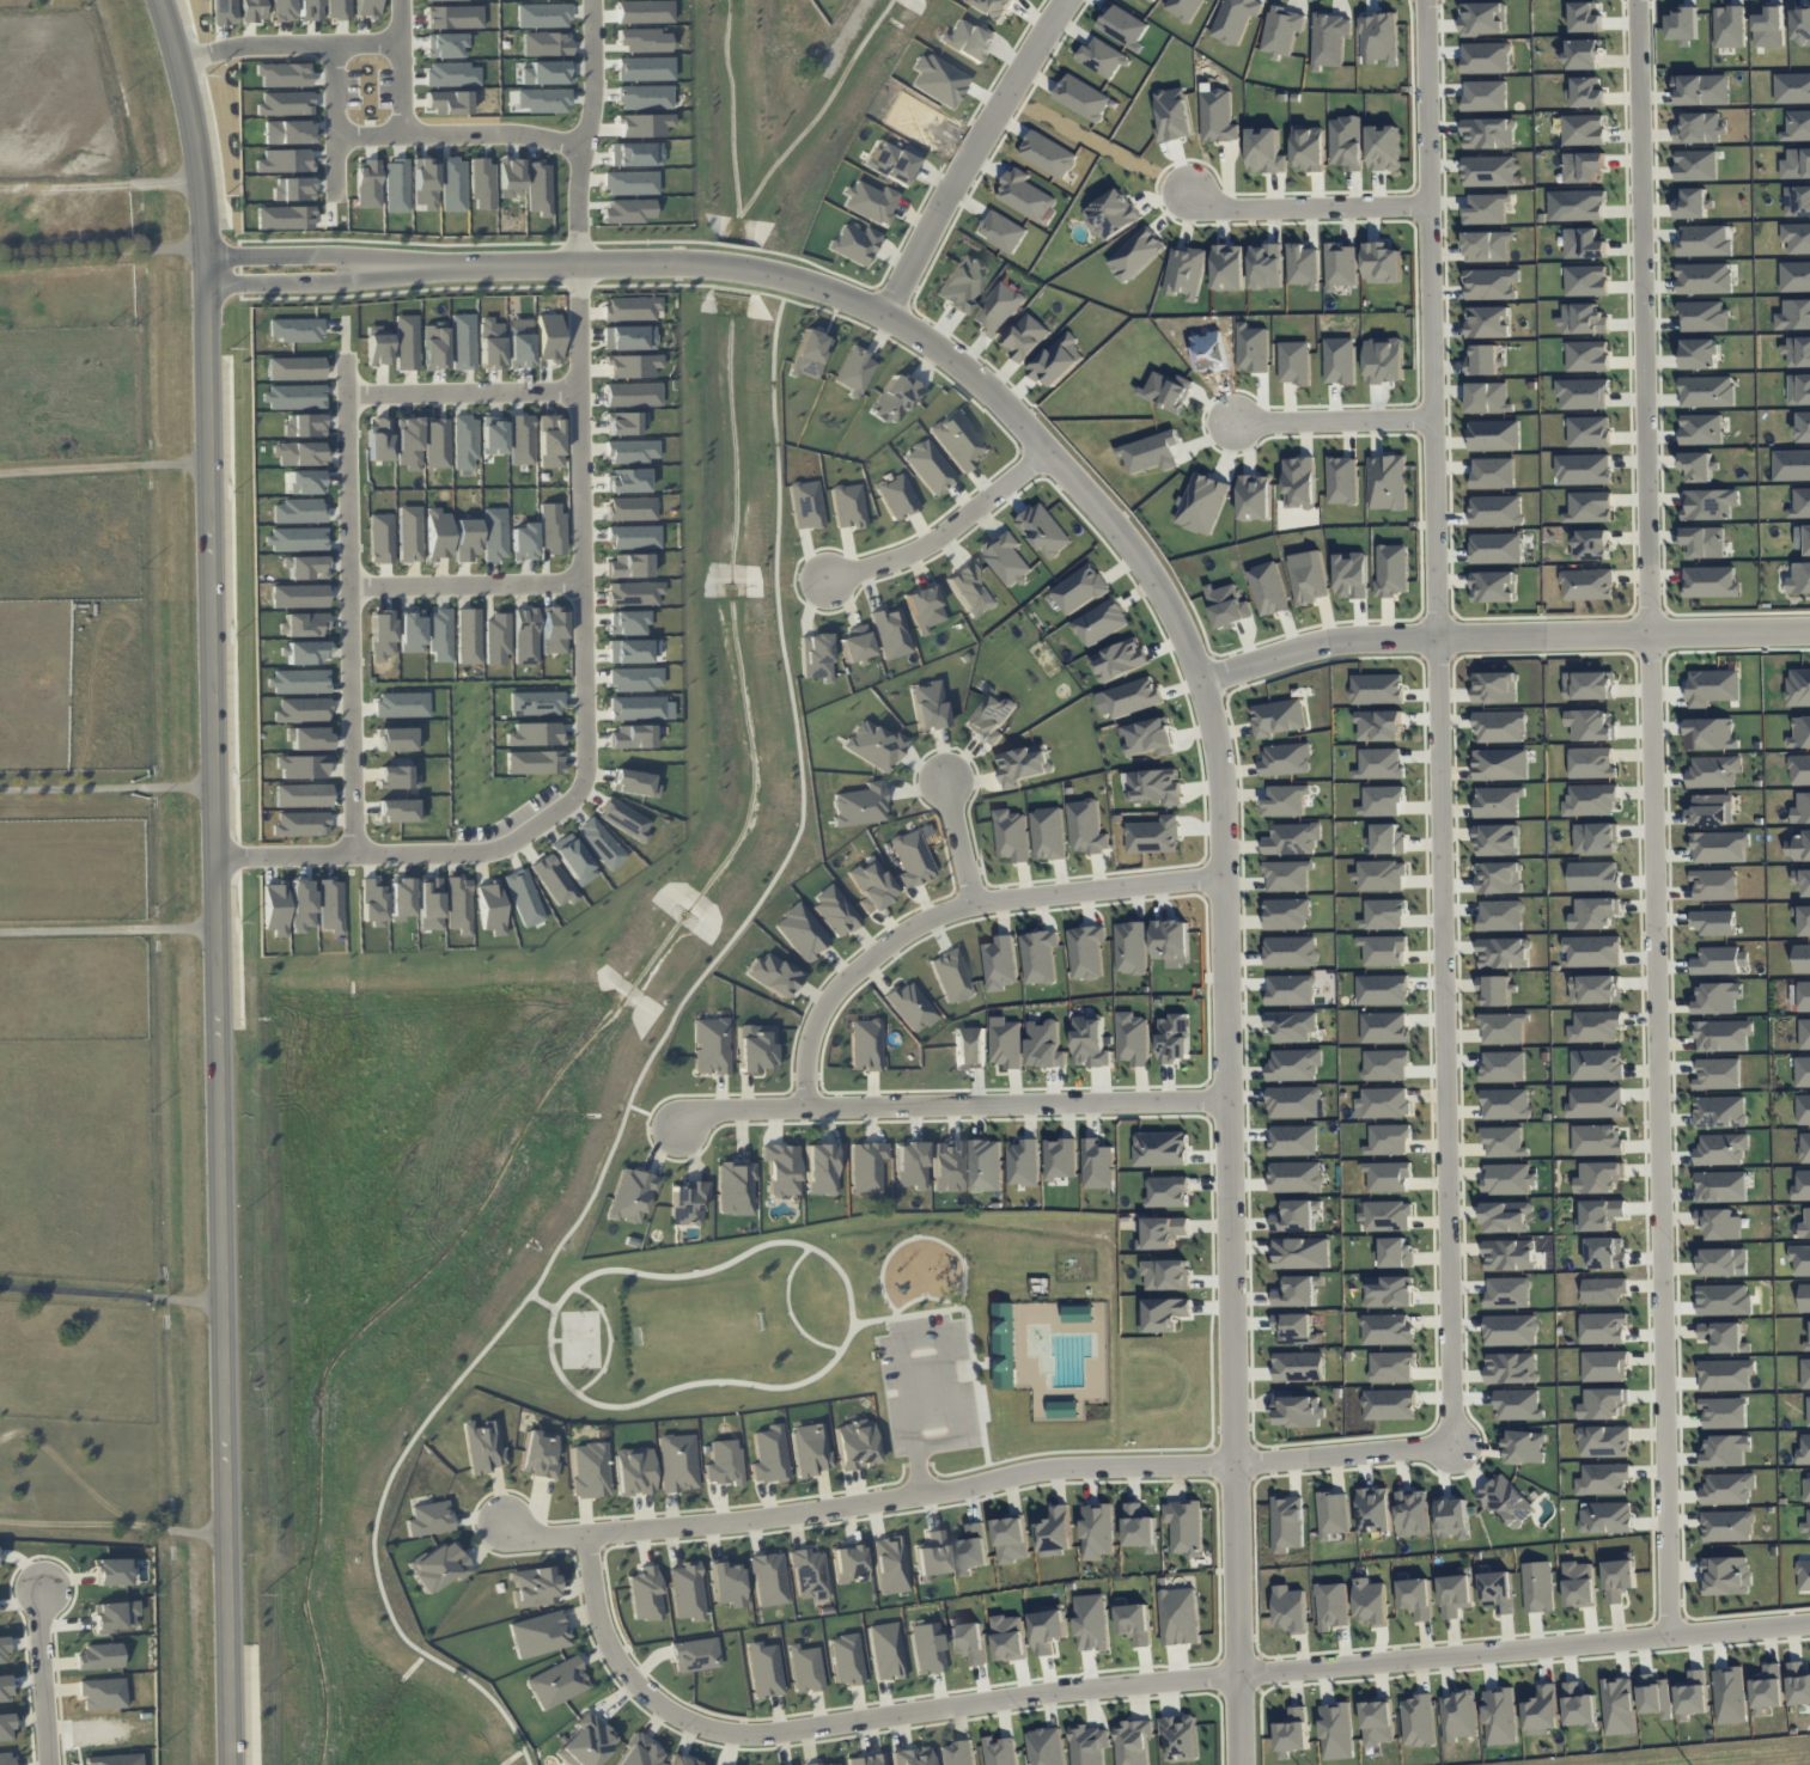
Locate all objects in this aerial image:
building: (1153, 0)
building: (993, 7)
building: (1184, 8)
building: (1235, 19)
building: (1800, 25)
building: (1730, 26)
building: (1768, 26)
building: (1282, 30)
building: (1379, 38)
building: (968, 39)
building: (1329, 39)
road: (288, 44)
building: (1583, 55)
building: (1103, 57)
building: (1486, 57)
road: (402, 69)
building: (1792, 87)
building: (1702, 90)
building: (1587, 92)
building: (1485, 96)
building: (1083, 97)
building: (1174, 115)
building: (1217, 115)
road: (328, 122)
building: (1797, 127)
building: (1700, 128)
building: (1583, 129)
building: (1488, 133)
road: (457, 139)
building: (1347, 142)
building: (1384, 147)
building: (1309, 148)
building: (1266, 151)
road: (974, 154)
building: (1048, 154)
building: (892, 163)
building: (1796, 164)
building: (1695, 165)
building: (1583, 166)
building: (1489, 171)
road: (99, 184)
building: (1025, 195)
building: (1797, 201)
building: (871, 202)
building: (1694, 203)
building: (1580, 204)
road: (1304, 206)
building: (1486, 208)
building: (1113, 214)
building: (1001, 231)
building: (1797, 237)
building: (1704, 240)
building: (1584, 243)
building: (854, 244)
building: (1488, 246)
road: (102, 252)
road: (319, 254)
building: (1135, 254)
building: (1382, 263)
building: (1304, 265)
building: (1341, 265)
building: (1229, 267)
building: (1186, 273)
building: (1794, 276)
building: (1704, 277)
building: (1585, 280)
road: (321, 281)
building: (962, 285)
building: (630, 307)
building: (1793, 314)
building: (1702, 316)
building: (1583, 319)
building: (1488, 322)
building: (297, 329)
building: (1026, 336)
building: (628, 337)
building: (463, 341)
building: (519, 342)
building: (489, 343)
building: (434, 346)
building: (1797, 350)
building: (547, 353)
building: (810, 354)
building: (1700, 354)
building: (1587, 355)
building: (1058, 360)
building: (1340, 360)
building: (1387, 360)
building: (1483, 360)
building: (1294, 362)
building: (632, 365)
building: (854, 371)
road: (463, 385)
building: (1799, 389)
building: (1166, 391)
building: (1707, 391)
building: (1583, 393)
building: (294, 397)
building: (1487, 397)
building: (896, 398)
building: (623, 422)
road: (1333, 423)
building: (1803, 427)
building: (1701, 429)
building: (1589, 432)
building: (493, 434)
building: (1493, 434)
building: (379, 439)
building: (522, 439)
building: (549, 440)
building: (958, 440)
building: (464, 441)
building: (408, 444)
building: (437, 444)
building: (630, 451)
building: (1151, 452)
building: (300, 453)
building: (1699, 465)
road: (103, 466)
building: (930, 466)
building: (1583, 469)
building: (1492, 472)
building: (1342, 480)
building: (307, 482)
building: (1299, 482)
building: (1387, 482)
building: (896, 496)
building: (1255, 497)
building: (1202, 503)
building: (1708, 503)
building: (1800, 503)
building: (806, 505)
building: (848, 506)
building: (1589, 507)
building: (630, 508)
building: (1495, 511)
road: (945, 532)
building: (495, 533)
building: (634, 537)
building: (1808, 539)
building: (467, 541)
building: (524, 542)
building: (1704, 542)
building: (1591, 544)
building: (1495, 548)
building: (1007, 558)
building: (628, 566)
building: (305, 567)
building: (1394, 569)
building: (1309, 576)
road: (467, 578)
building: (1799, 578)
building: (1710, 581)
building: (1586, 585)
road: (586, 586)
building: (971, 587)
building: (1080, 588)
building: (1268, 588)
building: (634, 593)
road: (347, 605)
building: (926, 605)
building: (1227, 606)
building: (627, 622)
building: (1102, 622)
building: (553, 629)
building: (412, 630)
building: (891, 631)
building: (382, 634)
building: (440, 634)
building: (524, 635)
building: (467, 636)
road: (1501, 637)
building: (495, 639)
building: (855, 645)
building: (632, 651)
building: (307, 652)
building: (816, 656)
building: (1120, 659)
building: (636, 678)
building: (1589, 685)
building: (1712, 686)
building: (1495, 688)
building: (1798, 688)
building: (1376, 689)
building: (1133, 696)
building: (537, 702)
building: (928, 706)
building: (636, 707)
building: (303, 710)
building: (991, 716)
building: (1279, 716)
road: (1437, 719)
building: (1379, 725)
building: (1591, 725)
building: (1500, 727)
building: (1800, 733)
building: (535, 734)
building: (1711, 734)
building: (632, 737)
building: (1148, 737)
building: (398, 738)
building: (874, 745)
road: (1215, 746)
building: (1286, 759)
building: (535, 762)
building: (1379, 763)
building: (1591, 763)
building: (1023, 764)
building: (1501, 764)
building: (1799, 769)
building: (1714, 771)
building: (633, 783)
building: (1154, 786)
road: (105, 788)
building: (1285, 800)
building: (1382, 800)
building: (1590, 800)
building: (1498, 801)
building: (860, 805)
building: (1802, 808)
building: (398, 810)
building: (1711, 810)
road: (1654, 817)
building: (624, 819)
building: (1087, 827)
building: (1048, 833)
building: (1154, 835)
building: (1012, 836)
building: (1293, 838)
building: (1388, 838)
building: (1497, 839)
road: (959, 842)
building: (601, 843)
building: (1718, 845)
building: (1798, 848)
building: (912, 857)
building: (573, 860)
building: (1287, 875)
building: (1381, 875)
building: (1499, 877)
road: (213, 879)
building: (553, 879)
building: (1802, 880)
building: (871, 885)
building: (1714, 885)
building: (523, 897)
building: (402, 898)
building: (429, 903)
building: (458, 904)
building: (488, 906)
road: (955, 910)
building: (834, 911)
building: (1384, 912)
building: (1593, 912)
building: (1287, 914)
building: (1500, 915)
building: (1803, 918)
road: (108, 929)
building: (802, 932)
building: (1172, 941)
building: (1131, 947)
building: (1383, 949)
building: (1086, 951)
building: (1291, 951)
building: (1592, 951)
building: (1504, 953)
building: (1038, 957)
building: (1802, 958)
building: (1000, 963)
building: (774, 975)
building: (1382, 989)
building: (1595, 989)
building: (1291, 990)
building: (1495, 990)
building: (1804, 995)
building: (1717, 998)
building: (910, 1006)
building: (1292, 1026)
building: (1595, 1026)
building: (1384, 1027)
building: (1503, 1027)
building: (1804, 1033)
building: (1721, 1034)
building: (1174, 1038)
building: (1133, 1039)
building: (1006, 1042)
building: (1090, 1042)
building: (866, 1044)
building: (712, 1045)
building: (1046, 1045)
building: (756, 1048)
building: (1294, 1064)
building: (1385, 1064)
building: (1596, 1064)
road: (645, 1065)
building: (1503, 1065)
building: (1802, 1071)
building: (1717, 1074)
building: (1293, 1101)
building: (1384, 1103)
building: (1595, 1103)
building: (1505, 1104)
road: (949, 1105)
building: (1803, 1109)
building: (1719, 1111)
building: (1388, 1138)
building: (1293, 1140)
building: (1597, 1140)
building: (1504, 1141)
building: (1804, 1147)
building: (1160, 1148)
building: (1721, 1149)
building: (1060, 1158)
building: (1023, 1162)
building: (910, 1164)
building: (1097, 1164)
building: (947, 1166)
building: (985, 1166)
building: (822, 1167)
building: (866, 1167)
building: (782, 1168)
building: (1388, 1175)
building: (1296, 1177)
building: (1599, 1177)
building: (1506, 1179)
building: (1720, 1186)
building: (1802, 1186)
building: (736, 1187)
building: (1168, 1191)
building: (632, 1195)
building: (688, 1202)
building: (1296, 1215)
building: (1387, 1215)
building: (1506, 1216)
building: (1719, 1223)
building: (1805, 1226)
building: (1164, 1232)
building: (1395, 1252)
building: (1300, 1253)
building: (1509, 1254)
building: (1800, 1259)
building: (1721, 1262)
park: (921, 1274)
building: (1166, 1275)
building: (1603, 1290)
building: (1298, 1291)
building: (1391, 1291)
building: (1507, 1291)
road: (111, 1295)
building: (1804, 1297)
building: (1079, 1313)
building: (1163, 1314)
park: (687, 1326)
building: (1602, 1327)
building: (1296, 1329)
building: (1387, 1330)
building: (1510, 1330)
building: (1724, 1337)
road: (920, 1338)
park: (580, 1342)
building: (1806, 1345)
park: (1058, 1360)
building: (1391, 1366)
building: (1604, 1366)
building: (1299, 1367)
building: (1511, 1368)
building: (1805, 1373)
building: (1725, 1374)
building: (1389, 1404)
building: (1603, 1404)
building: (1064, 1409)
building: (1298, 1410)
building: (1808, 1410)
building: (1724, 1412)
building: (1603, 1441)
building: (855, 1443)
building: (483, 1446)
building: (1524, 1447)
building: (811, 1448)
building: (1725, 1449)
building: (1804, 1451)
building: (538, 1454)
building: (769, 1454)
building: (677, 1461)
building: (724, 1462)
building: (590, 1470)
building: (634, 1471)
building: (1603, 1478)
road: (975, 1484)
building: (1727, 1488)
building: (1806, 1489)
building: (1506, 1501)
building: (1376, 1509)
building: (1414, 1513)
building: (1333, 1514)
building: (1605, 1517)
building: (429, 1519)
road: (112, 1521)
building: (1287, 1523)
building: (1727, 1526)
building: (1140, 1527)
building: (1186, 1527)
building: (1805, 1528)
building: (1097, 1531)
building: (1055, 1532)
building: (1011, 1539)
building: (973, 1549)
building: (931, 1556)
building: (848, 1562)
building: (890, 1564)
building: (439, 1566)
building: (115, 1571)
building: (809, 1574)
building: (1726, 1575)
building: (1803, 1575)
building: (1619, 1577)
building: (769, 1578)
building: (726, 1583)
building: (1579, 1584)
building: (534, 1586)
building: (1537, 1587)
building: (687, 1590)
building: (1497, 1590)
building: (1455, 1593)
building: (645, 1594)
building: (1416, 1598)
building: (1371, 1602)
building: (1333, 1606)
building: (1291, 1608)
building: (1180, 1616)
building: (1091, 1623)
building: (1135, 1623)
building: (1048, 1630)
building: (540, 1633)
building: (1010, 1637)
building: (970, 1643)
building: (927, 1648)
building: (2, 1649)
building: (886, 1650)
building: (695, 1655)
building: (846, 1659)
building: (805, 1668)
building: (764, 1669)
road: (43, 1674)
building: (557, 1682)
road: (1134, 1682)
building: (1798, 1684)
building: (4, 1688)
building: (1767, 1688)
building: (1692, 1694)
building: (1654, 1696)
building: (1730, 1696)
building: (1617, 1705)
building: (1579, 1706)
building: (1542, 1710)
building: (1458, 1715)
building: (1500, 1716)
building: (1418, 1721)
building: (1377, 1722)
building: (5, 1727)
building: (1336, 1730)
building: (1292, 1732)
building: (1181, 1737)
building: (586, 1742)
building: (1133, 1742)
building: (1089, 1745)
building: (1046, 1746)
building: (640, 1752)
building: (1000, 1752)
building: (957, 1753)
building: (913, 1757)
building: (869, 1759)
building: (681, 1760)
building: (828, 1763)

